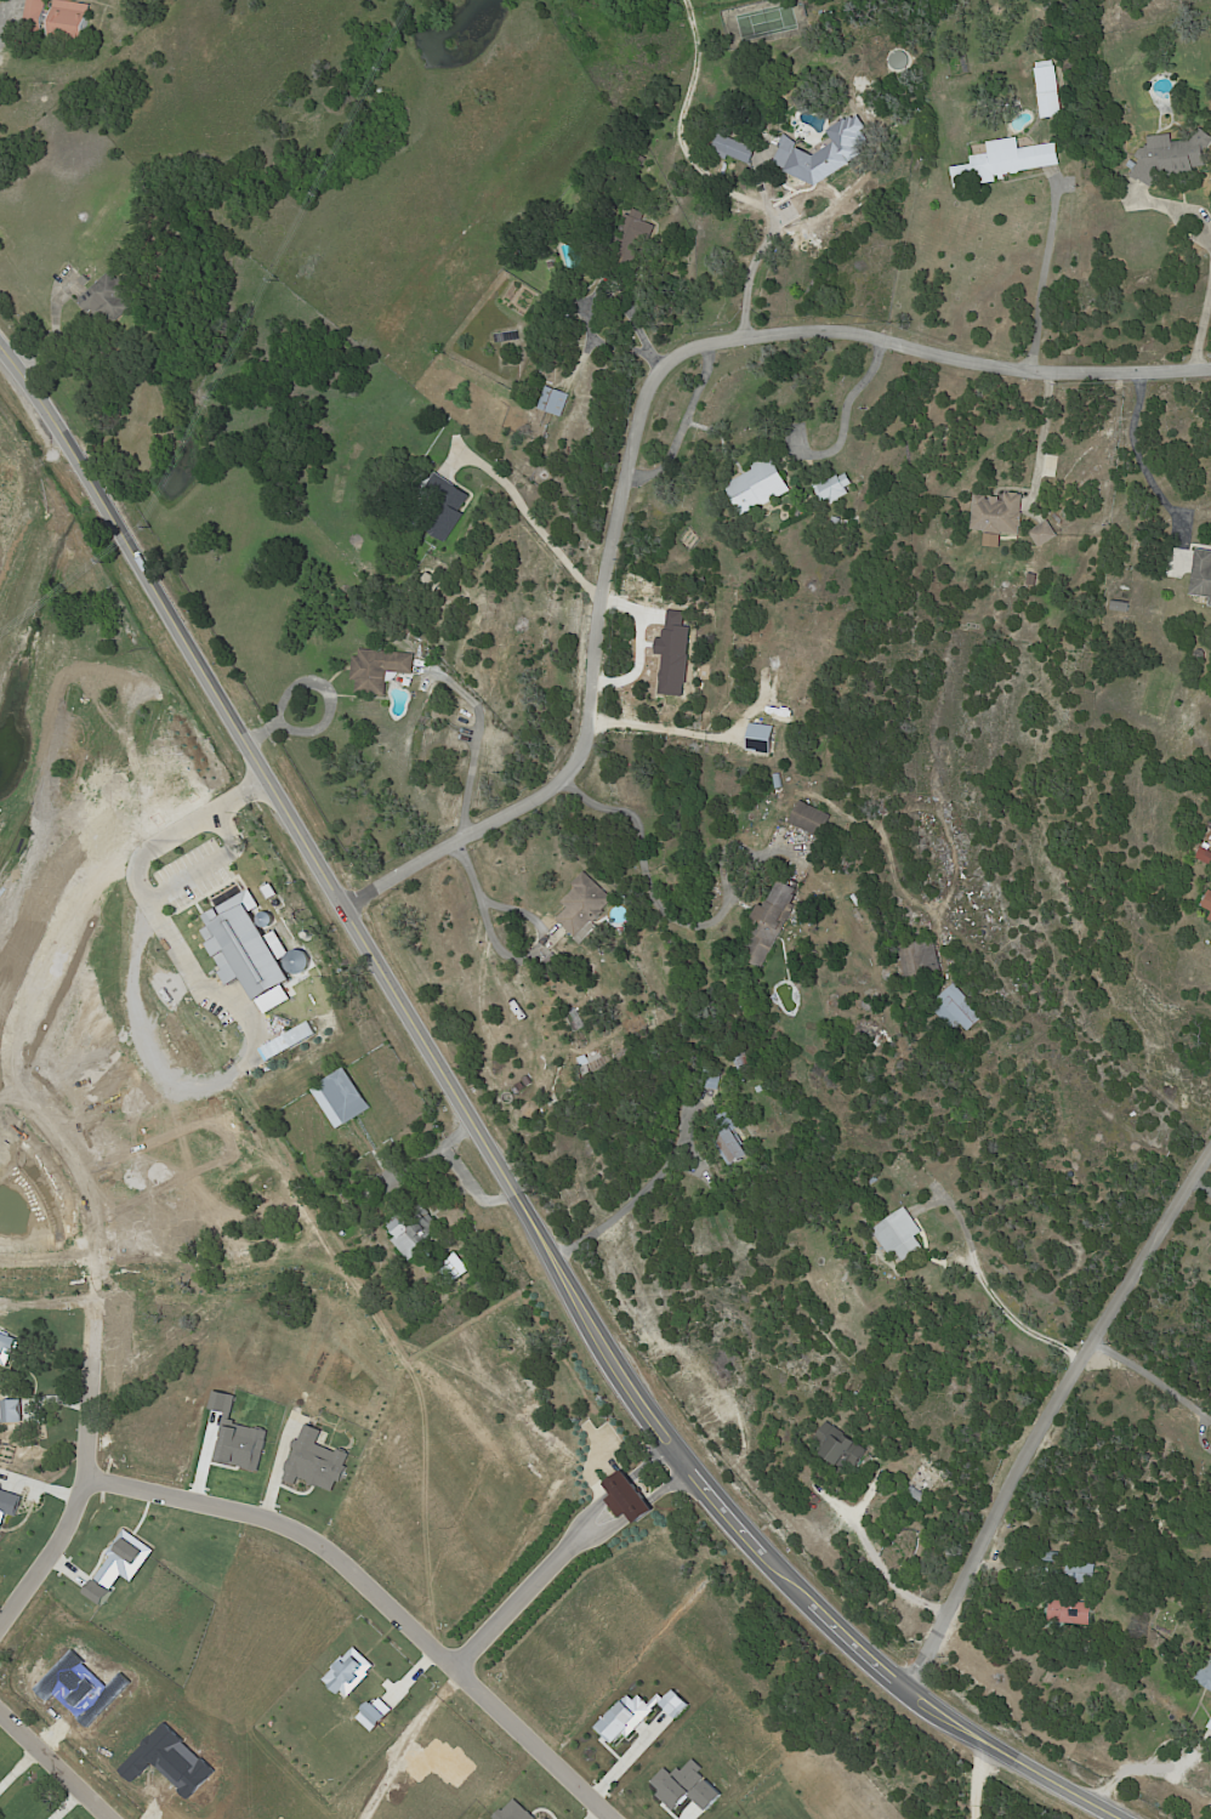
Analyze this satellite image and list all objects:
building: (59, 18)
building: (1047, 89)
building: (733, 150)
building: (821, 158)
building: (638, 159)
building: (1166, 159)
building: (1004, 161)
building: (1131, 164)
road: (1181, 205)
building: (630, 235)
road: (761, 255)
building: (551, 265)
road: (1044, 273)
road: (624, 295)
building: (109, 299)
road: (1203, 325)
building: (506, 336)
road: (857, 396)
building: (553, 402)
road: (638, 417)
road: (682, 421)
road: (1044, 430)
building: (545, 451)
road: (1138, 453)
building: (756, 487)
building: (444, 506)
road: (531, 513)
building: (997, 515)
building: (836, 523)
building: (1042, 534)
road: (141, 561)
building: (1201, 575)
building: (427, 585)
building: (1120, 607)
building: (406, 627)
building: (377, 669)
road: (479, 714)
road: (660, 723)
building: (830, 755)
building: (811, 820)
building: (1204, 854)
building: (843, 864)
road: (482, 893)
building: (1206, 900)
building: (582, 906)
building: (1209, 917)
building: (768, 922)
building: (249, 951)
building: (920, 957)
building: (555, 962)
building: (550, 973)
road: (248, 1002)
building: (957, 1008)
building: (743, 1062)
building: (711, 1079)
building: (521, 1086)
building: (758, 1088)
building: (345, 1096)
building: (730, 1139)
road: (428, 1156)
road: (1201, 1186)
road: (614, 1211)
building: (411, 1229)
building: (898, 1234)
road: (983, 1285)
building: (518, 1338)
road: (627, 1365)
road: (1162, 1382)
road: (1050, 1408)
road: (1209, 1417)
building: (837, 1446)
building: (925, 1477)
road: (78, 1493)
building: (917, 1493)
building: (1051, 1556)
road: (879, 1559)
building: (1085, 1573)
road: (370, 1598)
road: (516, 1598)
building: (1071, 1611)
building: (1205, 1675)
road: (58, 1763)
road: (1148, 1767)
road: (977, 1777)
road: (70, 1803)

